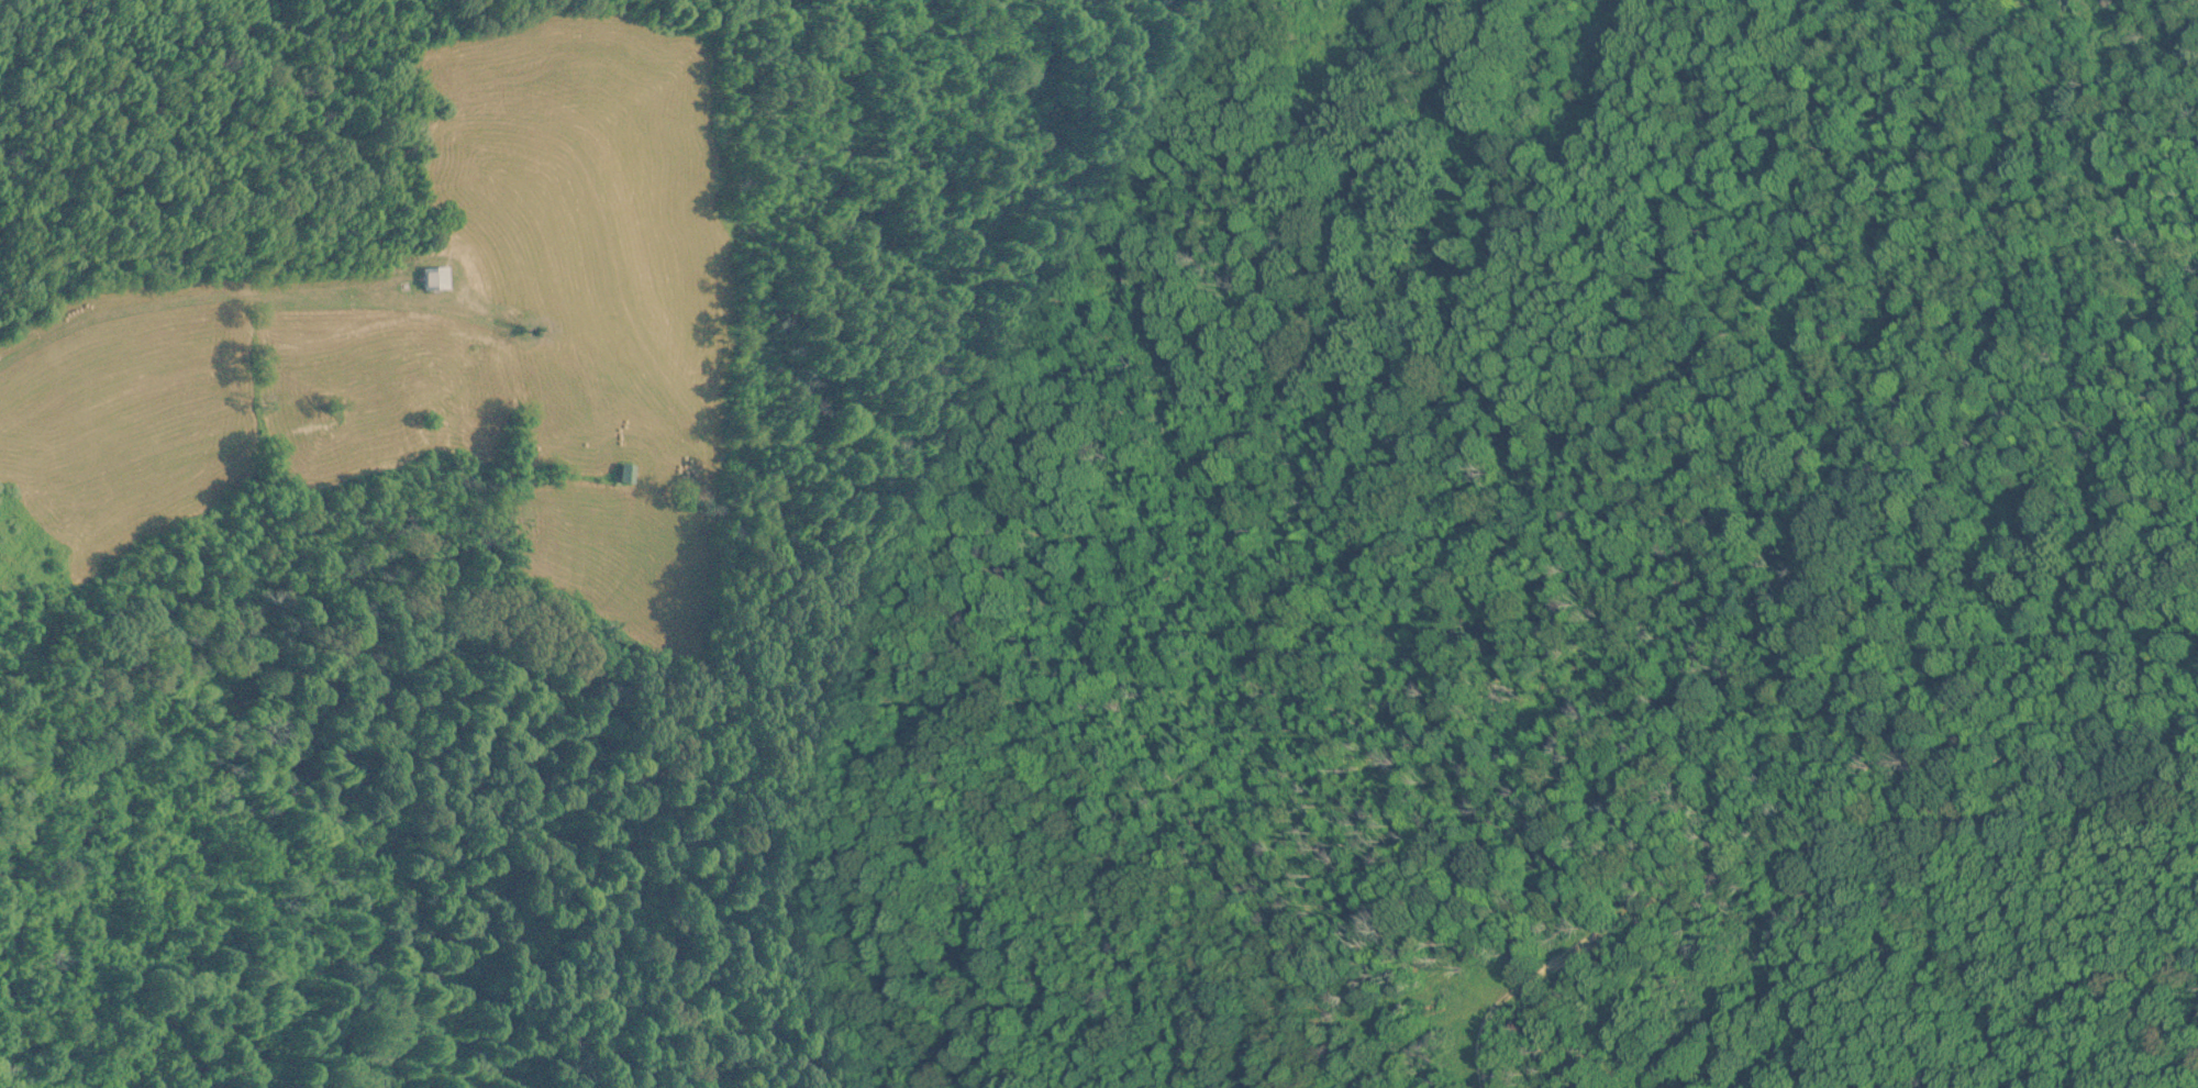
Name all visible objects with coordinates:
building: (439, 279)
road: (1744, 855)
road: (1510, 990)

